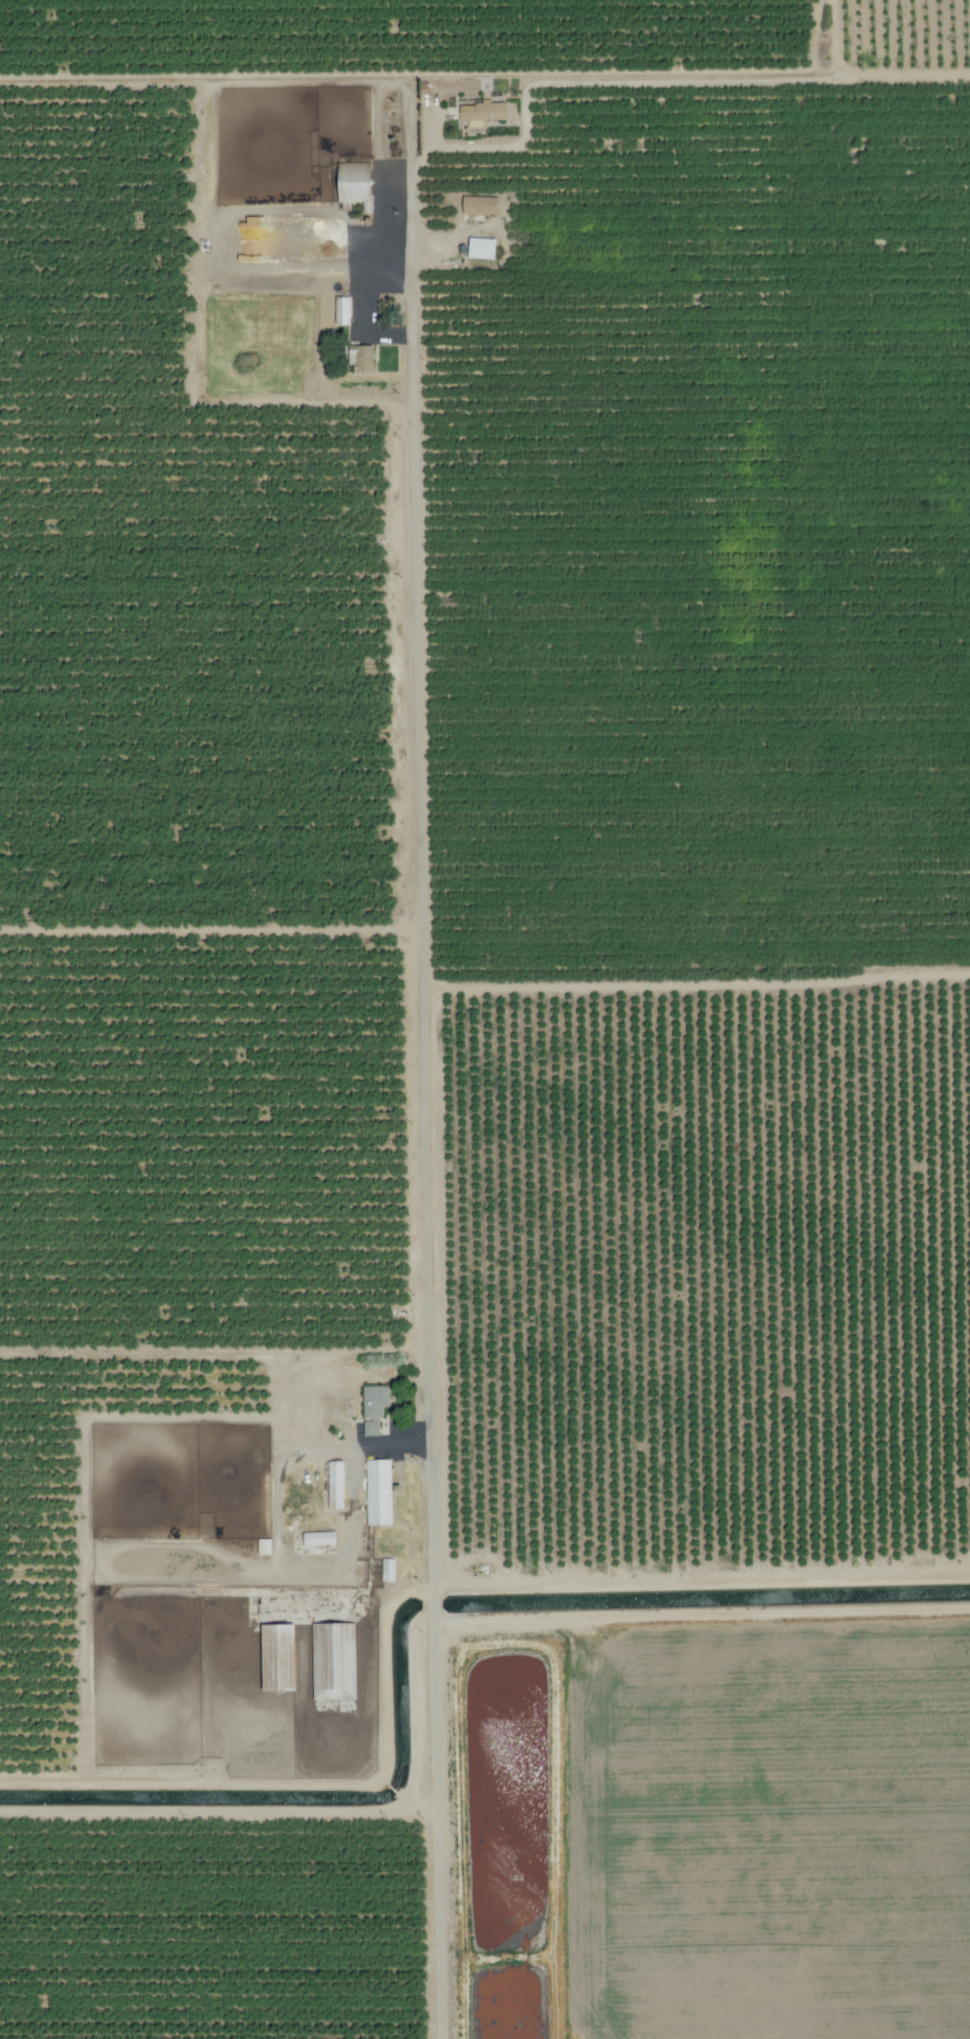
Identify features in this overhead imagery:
road: (209, 79)
building: (482, 114)
road: (501, 146)
building: (354, 193)
building: (479, 208)
road: (315, 209)
building: (481, 250)
building: (341, 313)
road: (199, 348)
building: (361, 360)
road: (432, 1058)
building: (374, 1409)
building: (335, 1487)
building: (378, 1494)
building: (303, 1512)
building: (318, 1541)
building: (264, 1549)
building: (388, 1572)
building: (277, 1660)
building: (333, 1664)

